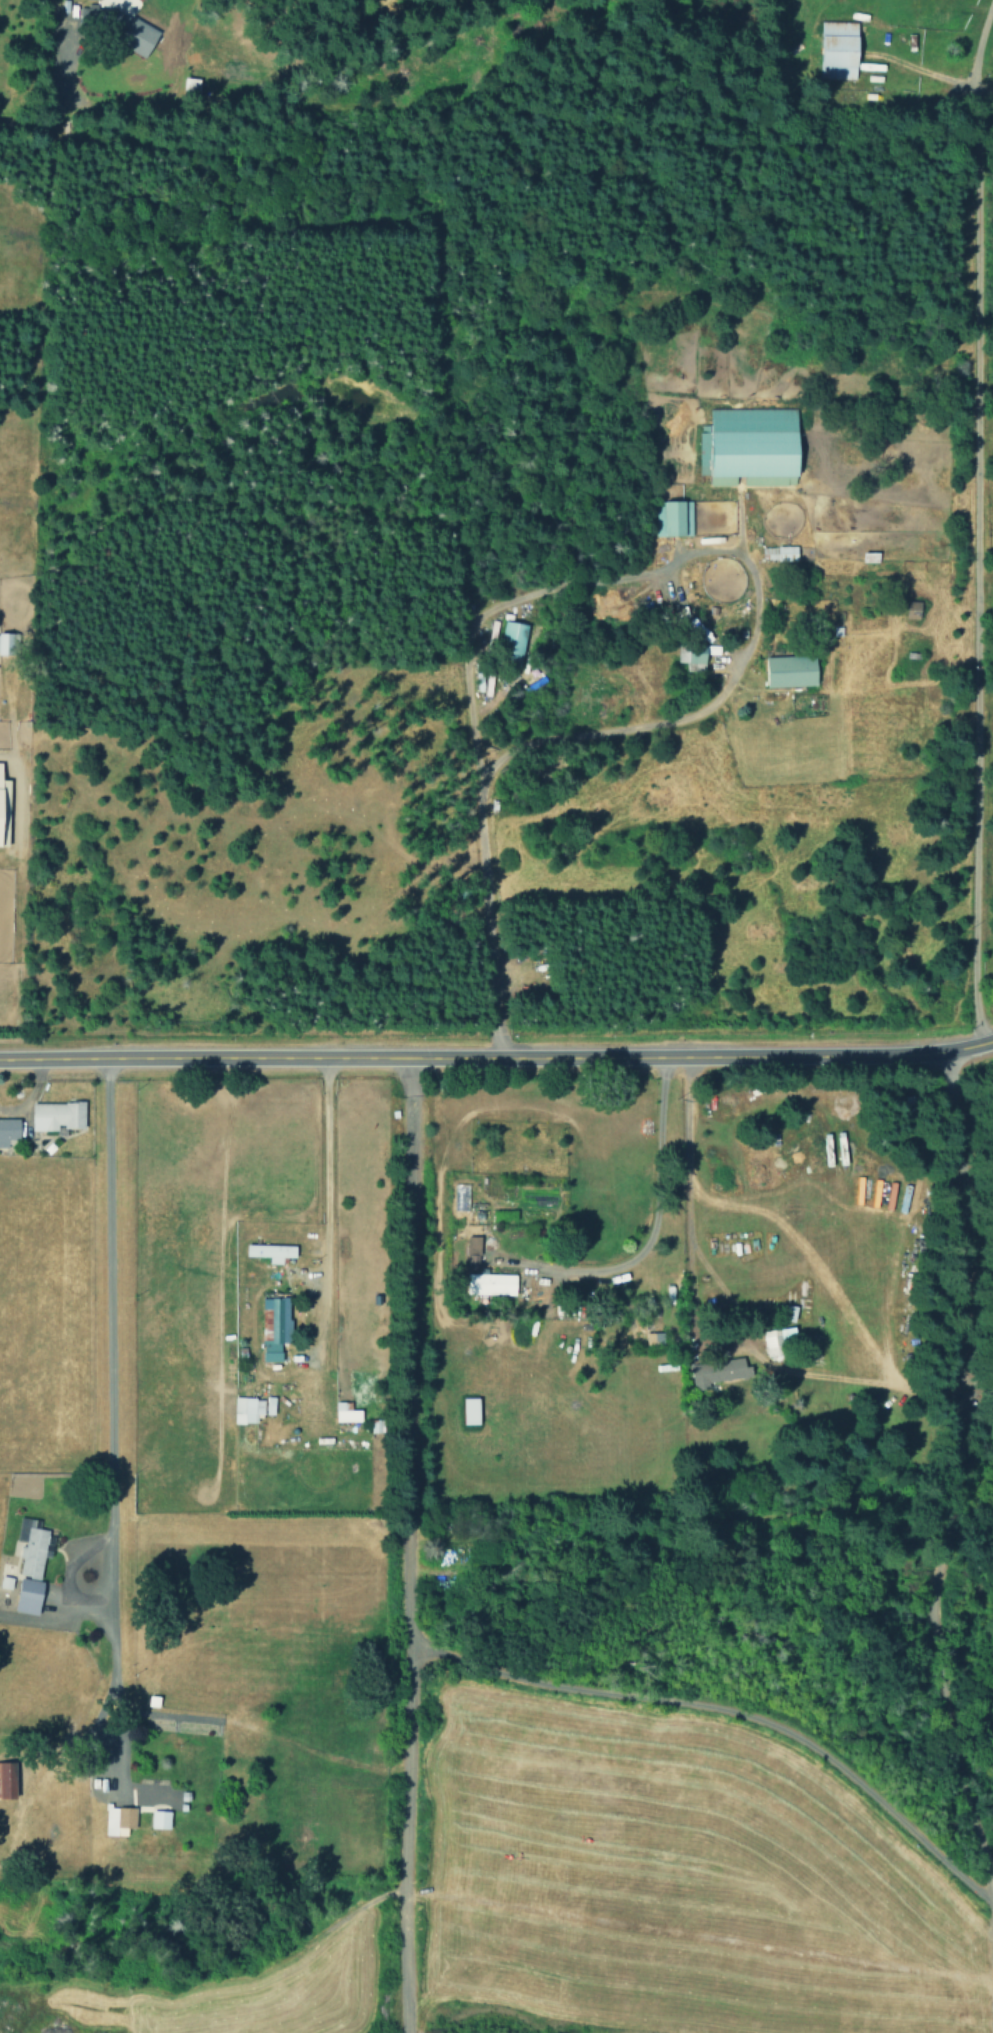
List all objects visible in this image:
building: (105, 10)
building: (140, 37)
building: (837, 49)
building: (191, 85)
road: (57, 86)
building: (751, 446)
building: (672, 517)
road: (968, 520)
building: (781, 553)
building: (512, 639)
building: (8, 643)
building: (692, 657)
building: (792, 670)
building: (482, 684)
building: (3, 808)
road: (497, 1057)
building: (57, 1115)
building: (9, 1130)
building: (882, 1193)
road: (645, 1239)
building: (473, 1251)
building: (271, 1252)
building: (492, 1283)
building: (275, 1327)
building: (654, 1338)
building: (718, 1371)
road: (982, 1389)
building: (270, 1405)
building: (247, 1409)
building: (471, 1411)
building: (346, 1412)
road: (107, 1422)
road: (945, 1506)
road: (406, 1546)
road: (667, 1546)
building: (31, 1547)
building: (6, 1581)
building: (29, 1595)
road: (733, 1710)
building: (8, 1779)
building: (160, 1819)
building: (118, 1820)
crop: (670, 1885)
crop: (220, 1993)

